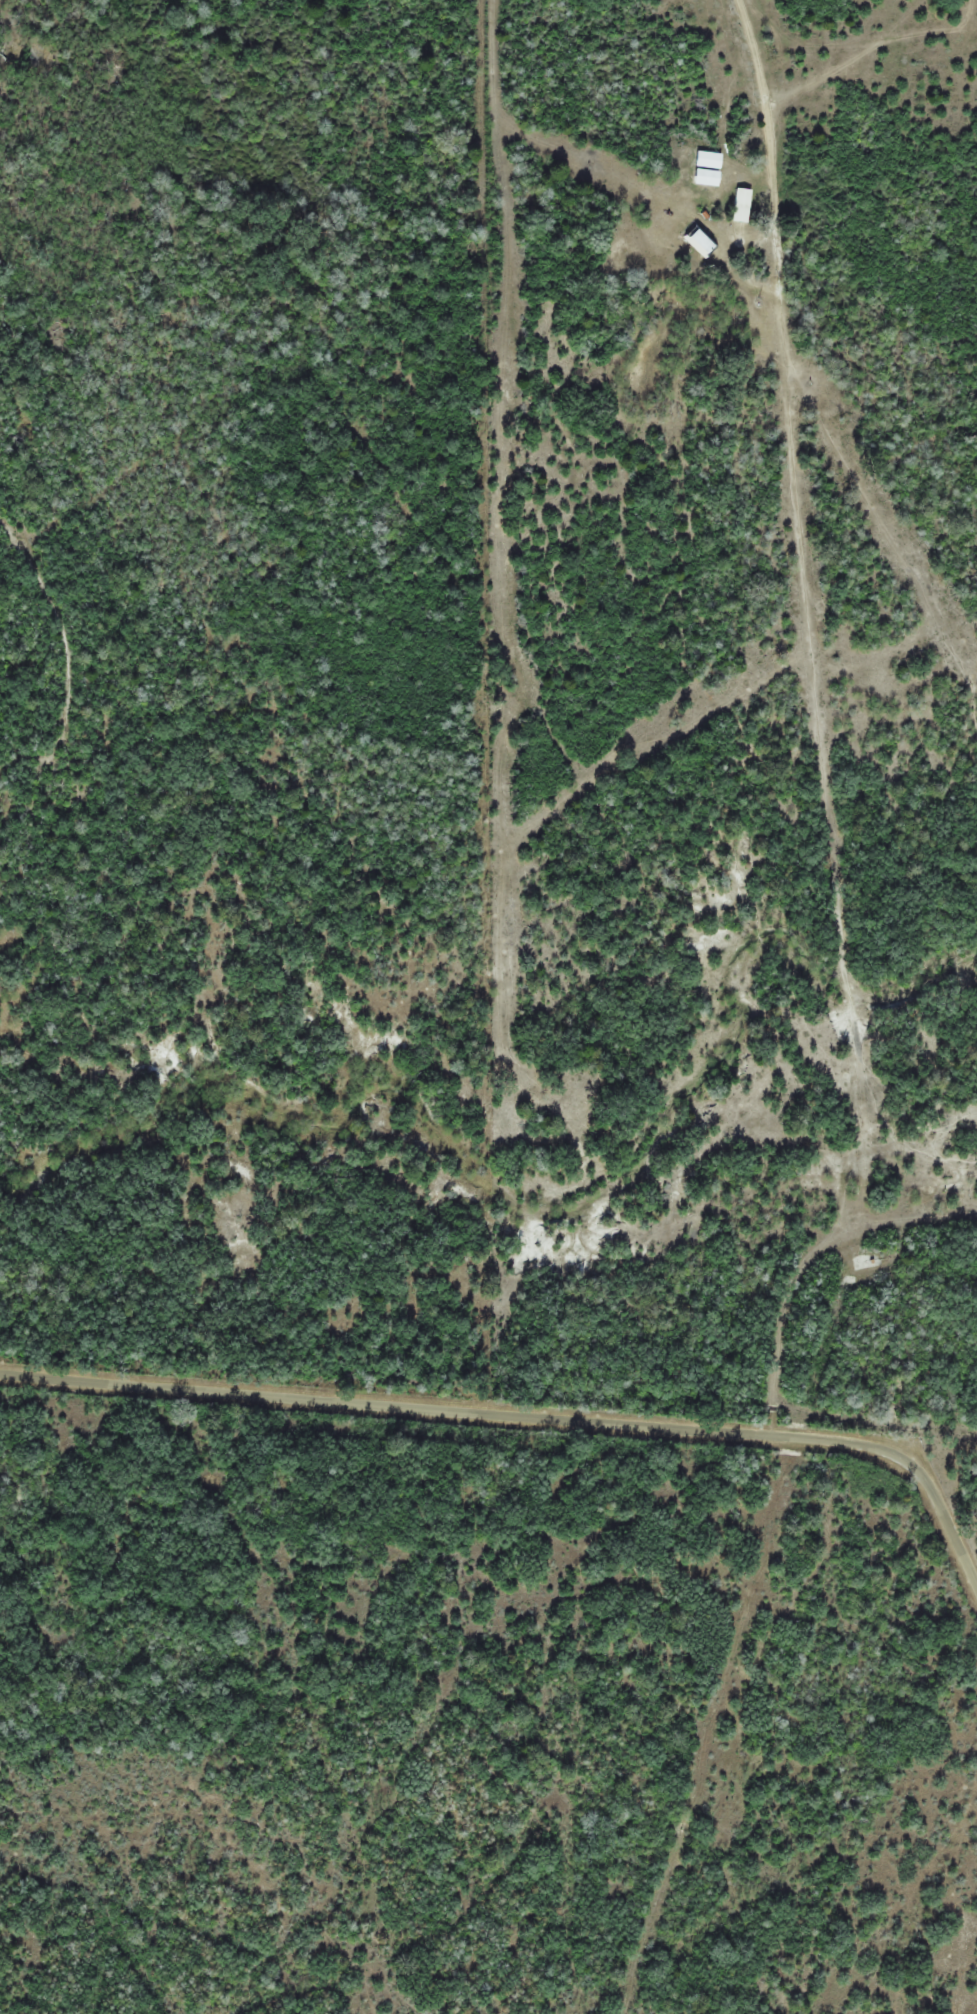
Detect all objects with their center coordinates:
building: (702, 242)
road: (519, 1414)

